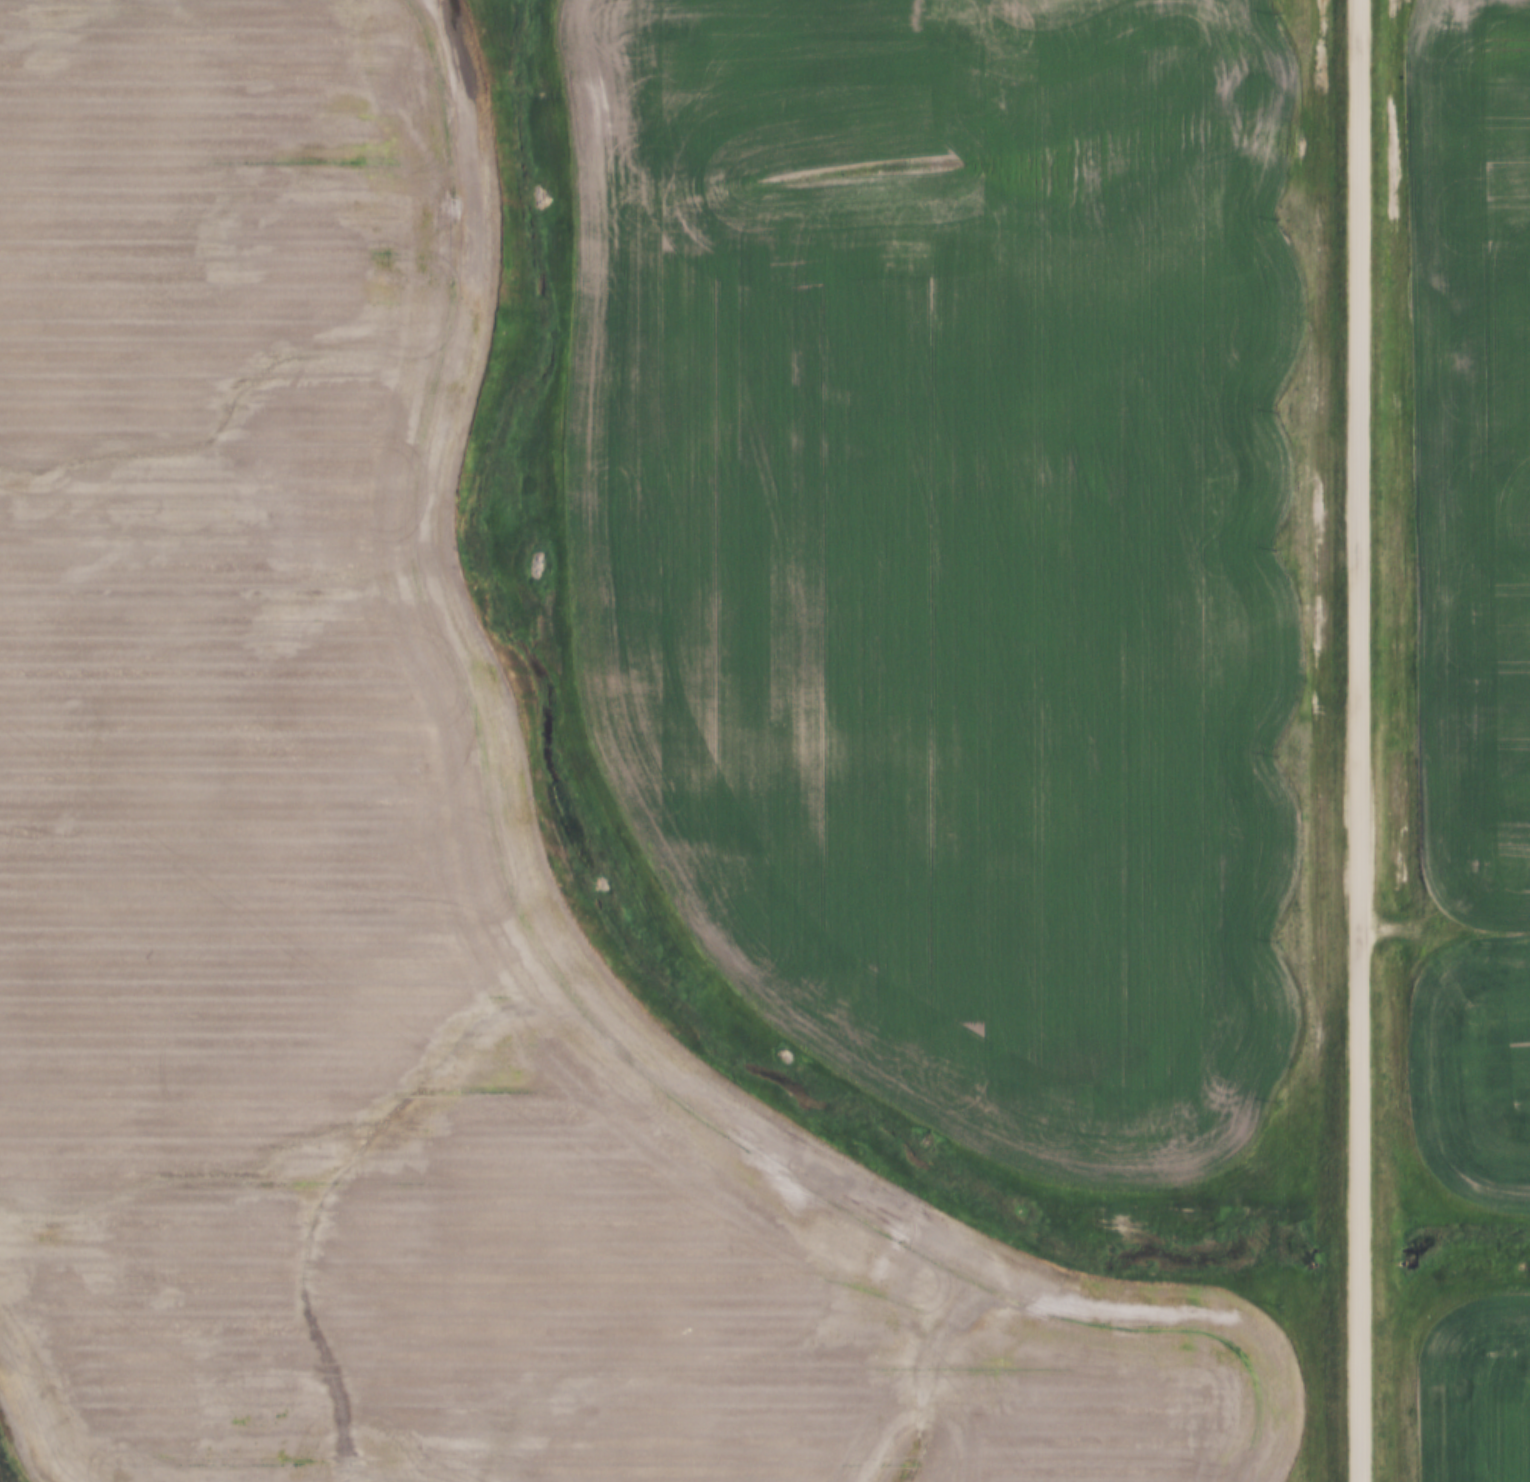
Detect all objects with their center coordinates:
road: (1359, 741)

